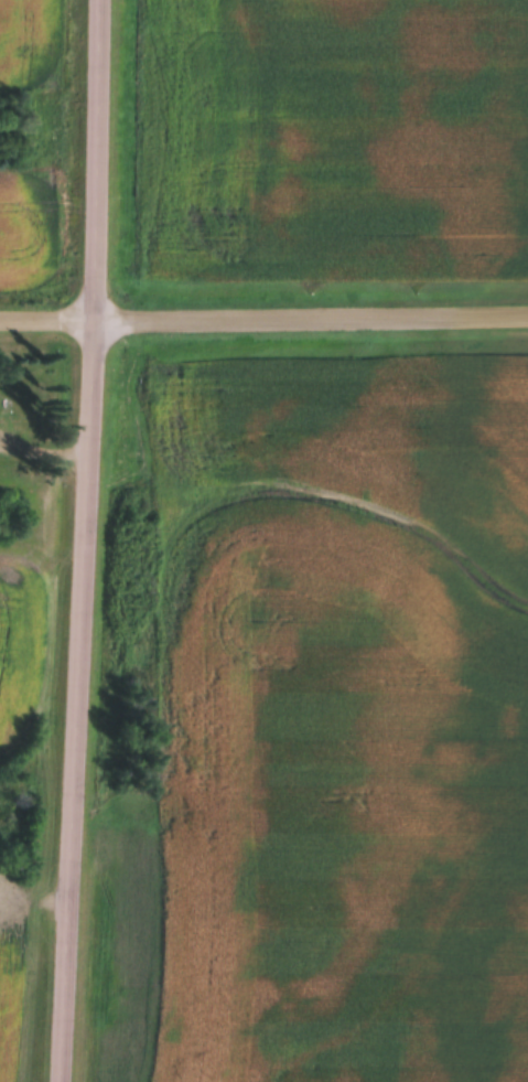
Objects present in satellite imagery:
road: (263, 313)
road: (90, 540)

